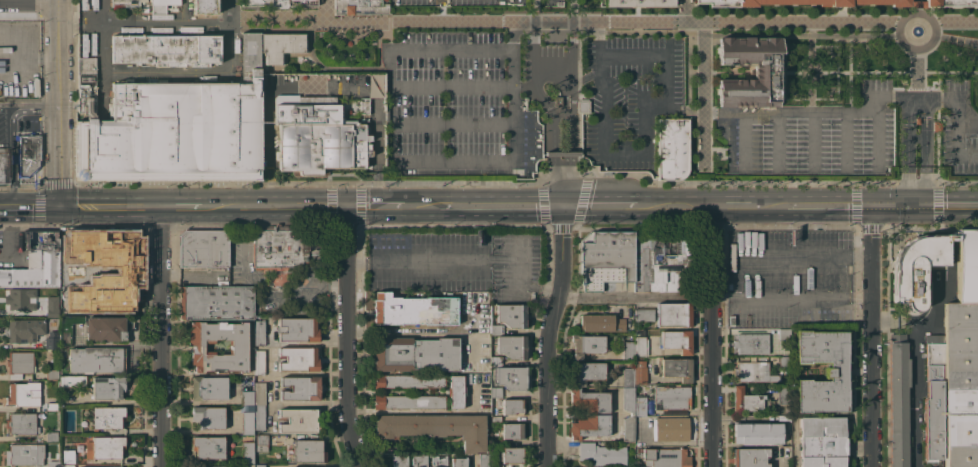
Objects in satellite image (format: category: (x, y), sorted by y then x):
building: (636, 2)
building: (801, 2)
building: (949, 2)
building: (278, 3)
building: (917, 3)
road: (28, 4)
building: (132, 4)
building: (161, 5)
building: (204, 7)
building: (360, 7)
road: (916, 7)
road: (327, 10)
road: (184, 12)
road: (683, 12)
road: (955, 21)
road: (565, 22)
road: (167, 25)
road: (600, 29)
fountain: (916, 32)
road: (231, 35)
road: (957, 39)
road: (575, 40)
road: (931, 44)
road: (536, 45)
building: (281, 47)
building: (123, 48)
building: (177, 49)
building: (250, 49)
road: (56, 50)
road: (468, 50)
parking lot: (551, 51)
road: (19, 56)
road: (103, 56)
road: (167, 71)
building: (765, 71)
building: (250, 74)
road: (917, 74)
road: (587, 76)
building: (86, 84)
building: (375, 84)
road: (452, 86)
road: (516, 87)
road: (319, 88)
road: (528, 89)
parking lot: (632, 97)
road: (700, 97)
road: (915, 97)
building: (558, 100)
road: (28, 101)
building: (123, 101)
parking lot: (457, 105)
building: (583, 105)
road: (513, 106)
road: (704, 111)
road: (814, 112)
road: (957, 112)
road: (743, 120)
building: (915, 120)
road: (391, 124)
road: (452, 125)
building: (935, 125)
parking lot: (957, 128)
building: (229, 130)
building: (167, 131)
building: (319, 133)
road: (875, 136)
road: (812, 137)
parking lot: (814, 137)
road: (845, 137)
road: (907, 142)
road: (925, 142)
road: (570, 143)
road: (551, 147)
road: (647, 147)
building: (672, 148)
building: (105, 149)
road: (957, 149)
building: (562, 153)
building: (28, 154)
road: (56, 154)
road: (452, 162)
building: (262, 163)
road: (378, 163)
building: (4, 165)
road: (327, 178)
road: (375, 193)
road: (267, 194)
road: (916, 195)
road: (108, 206)
road: (184, 206)
road: (502, 206)
traffic signals: (561, 206)
road: (601, 206)
road: (675, 206)
road: (736, 206)
road: (816, 206)
road: (892, 206)
traffic signals: (916, 206)
road: (947, 206)
road: (28, 207)
traffic signals: (57, 207)
road: (276, 207)
traffic signals: (345, 207)
road: (374, 207)
road: (423, 207)
traffic signals: (869, 207)
road: (869, 230)
road: (562, 242)
building: (67, 245)
building: (204, 248)
building: (280, 251)
road: (800, 254)
road: (465, 258)
building: (606, 258)
building: (36, 261)
building: (641, 261)
building: (669, 262)
parking lot: (455, 263)
building: (967, 265)
building: (917, 267)
building: (130, 274)
fountain: (277, 275)
building: (99, 276)
parking lot: (787, 278)
building: (728, 286)
road: (634, 295)
road: (789, 297)
building: (21, 299)
building: (216, 302)
building: (52, 306)
building: (414, 310)
building: (643, 313)
building: (674, 314)
building: (512, 315)
road: (925, 318)
building: (601, 322)
building: (68, 328)
building: (105, 328)
building: (24, 329)
building: (298, 329)
building: (497, 329)
building: (259, 332)
road: (420, 333)
building: (784, 334)
road: (159, 336)
road: (710, 336)
road: (346, 337)
building: (51, 340)
building: (677, 340)
building: (640, 342)
building: (751, 343)
building: (959, 344)
building: (586, 345)
building: (238, 346)
building: (512, 346)
building: (628, 350)
building: (415, 353)
building: (298, 358)
building: (96, 359)
building: (496, 360)
road: (870, 360)
building: (784, 361)
building: (259, 362)
building: (19, 364)
building: (676, 368)
road: (545, 371)
building: (588, 371)
building: (753, 371)
building: (836, 372)
building: (52, 374)
building: (639, 375)
building: (510, 377)
building: (628, 377)
building: (468, 378)
building: (73, 380)
building: (408, 380)
building: (107, 387)
building: (300, 387)
building: (208, 388)
building: (456, 391)
building: (496, 392)
road: (917, 392)
building: (259, 393)
building: (783, 394)
building: (24, 395)
building: (247, 397)
building: (933, 398)
building: (628, 399)
building: (672, 399)
building: (589, 400)
building: (748, 400)
building: (408, 401)
building: (898, 402)
building: (640, 405)
building: (50, 406)
building: (513, 406)
road: (422, 410)
building: (106, 417)
building: (208, 417)
building: (259, 417)
building: (496, 418)
building: (248, 419)
building: (298, 420)
building: (21, 424)
building: (590, 426)
building: (435, 427)
building: (628, 428)
building: (960, 428)
building: (671, 429)
building: (512, 430)
building: (756, 432)
building: (51, 436)
building: (261, 442)
building: (496, 442)
building: (821, 442)
building: (208, 446)
building: (104, 447)
building: (308, 450)
building: (247, 452)
building: (24, 454)
building: (602, 454)
building: (512, 455)
building: (68, 456)
building: (666, 457)
building: (750, 457)
building: (484, 460)
building: (399, 461)
building: (419, 461)
building: (439, 461)
building: (458, 462)
building: (933, 462)
road: (470, 463)
building: (53, 464)
building: (497, 464)
building: (67, 465)
building: (247, 465)
building: (259, 465)
building: (638, 465)
building: (100, 466)
building: (204, 466)

